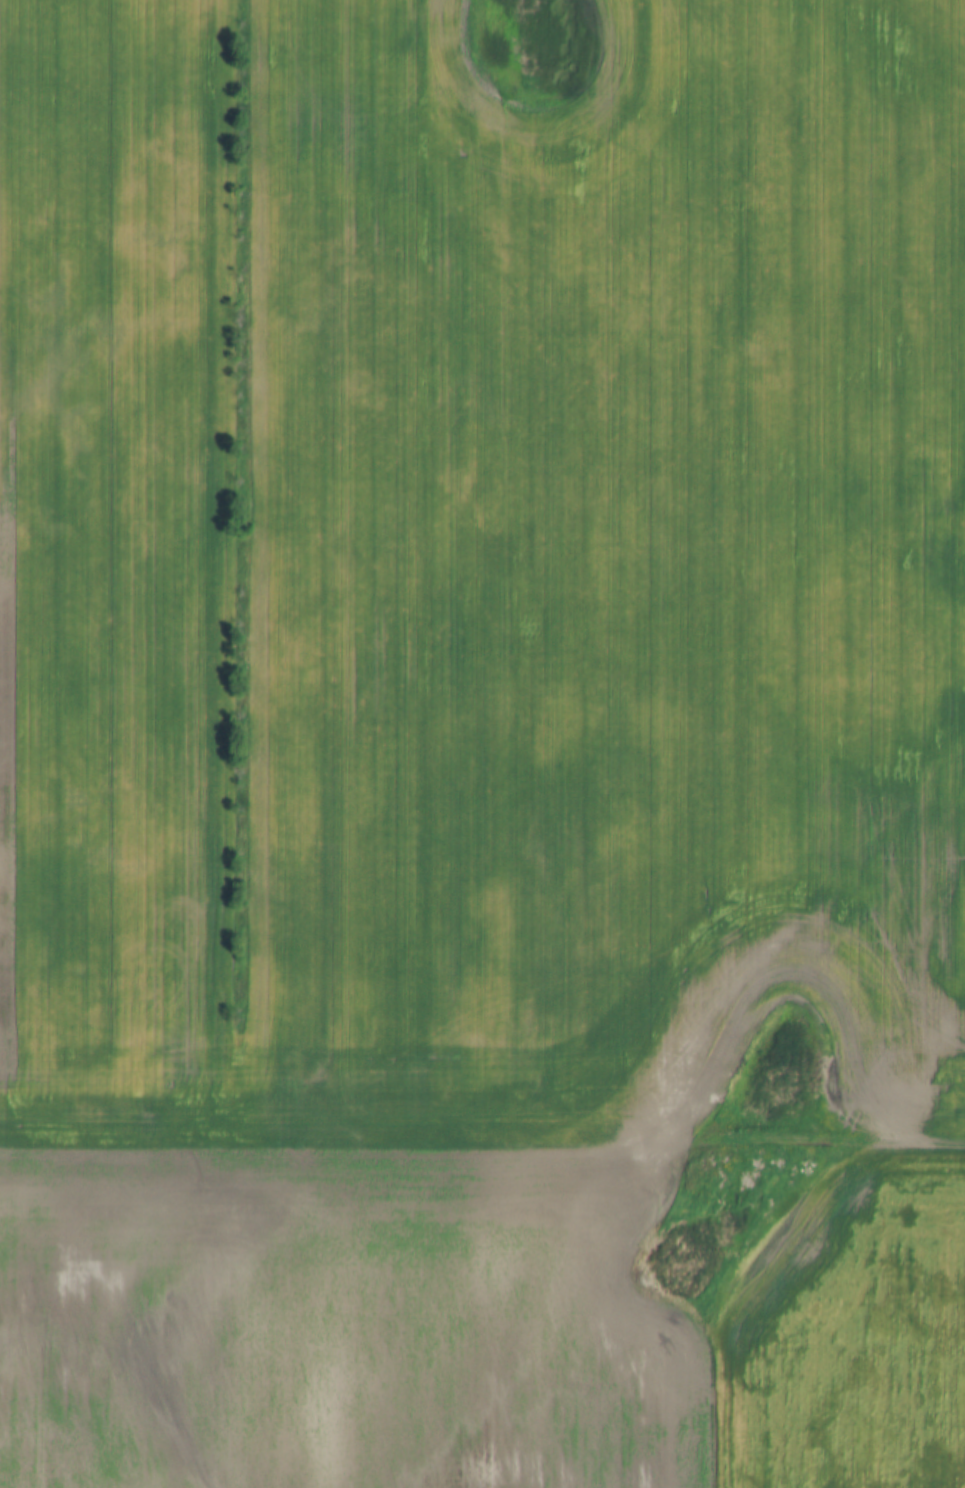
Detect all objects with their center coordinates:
road: (752, 1138)

